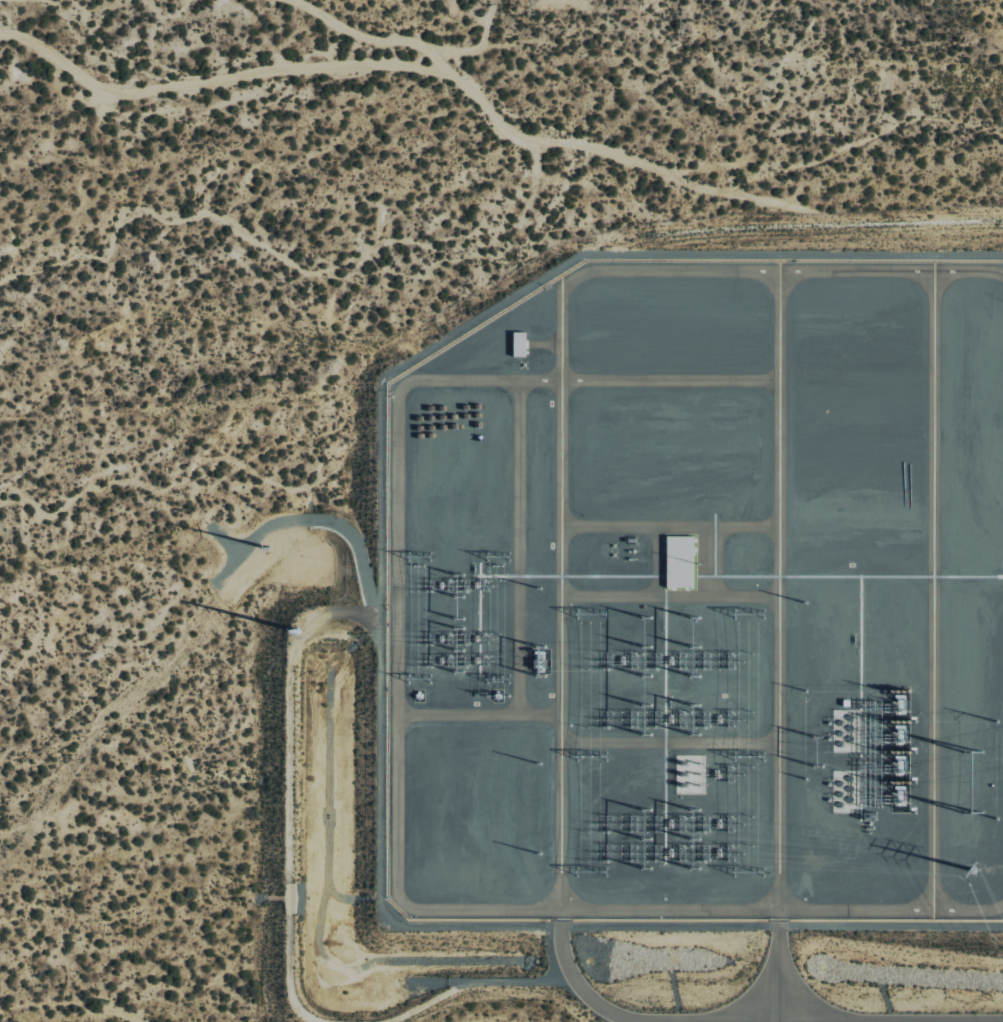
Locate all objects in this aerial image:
building: (517, 344)
power substation: (702, 600)
power tower: (292, 632)
power tower: (973, 869)
road: (578, 984)

